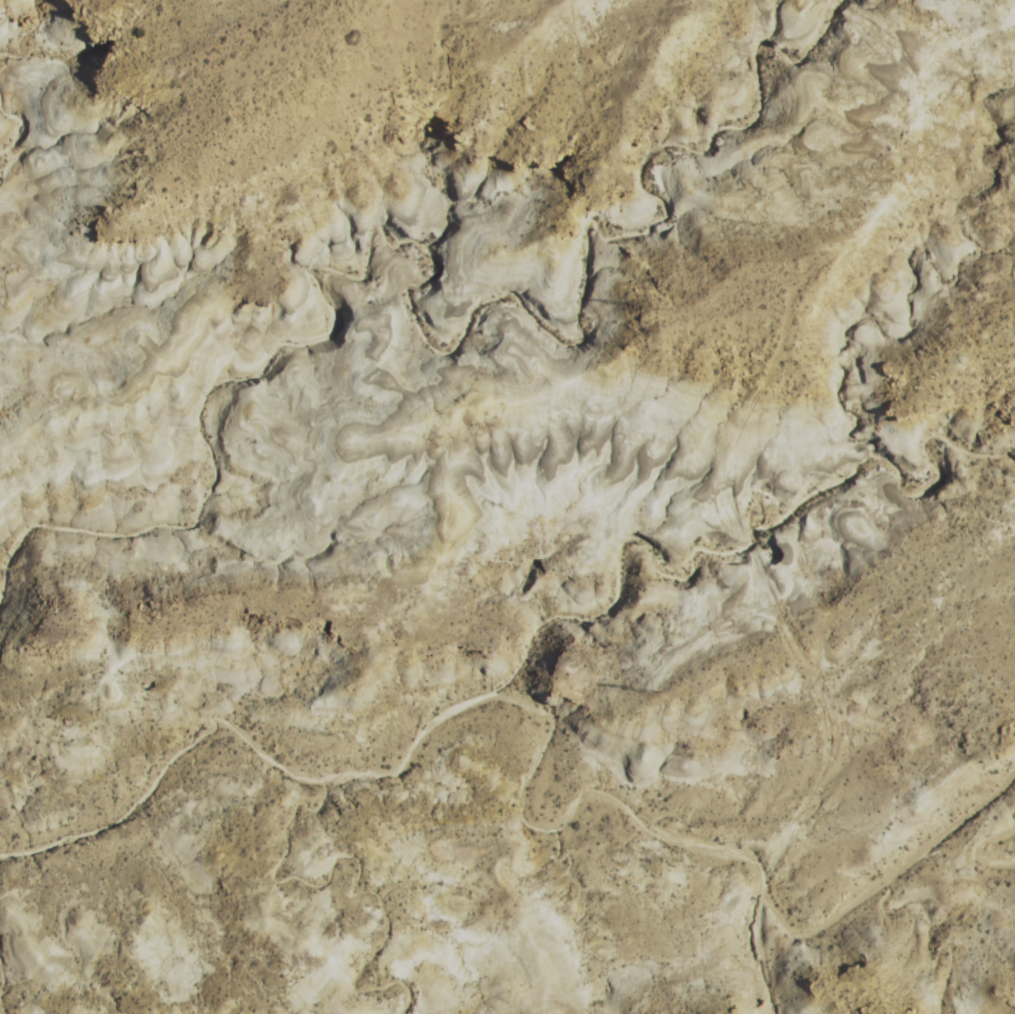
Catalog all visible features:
power tower: (656, 307)
power tower: (655, 691)
river: (524, 749)

